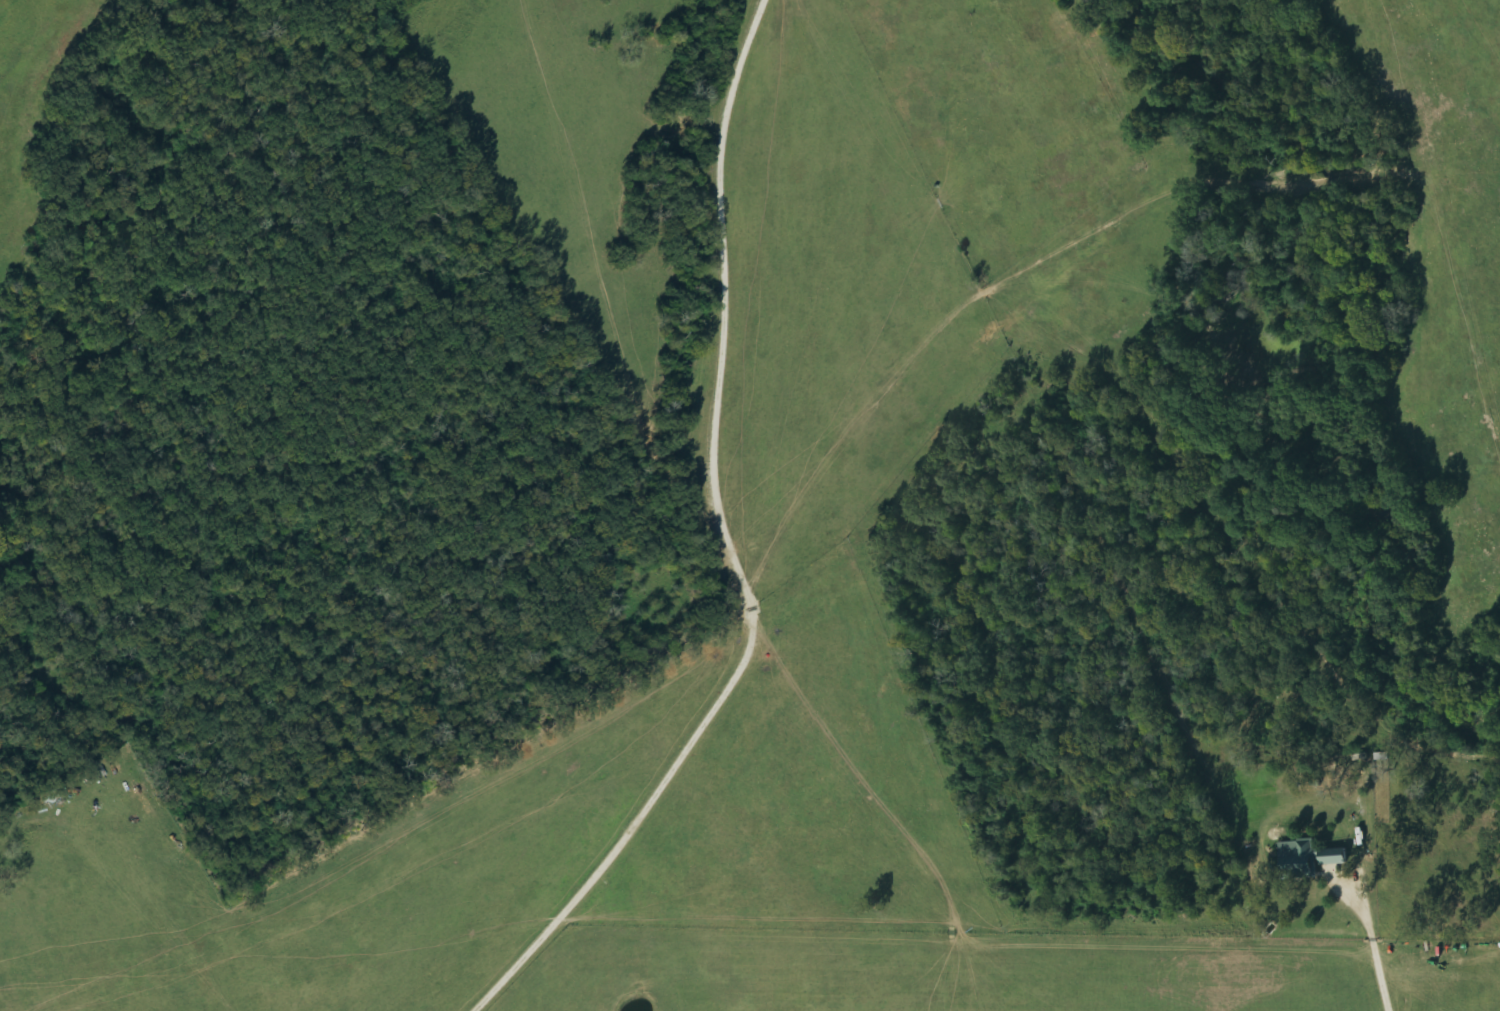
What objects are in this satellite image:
building: (1298, 853)
building: (1335, 857)
building: (1332, 870)

